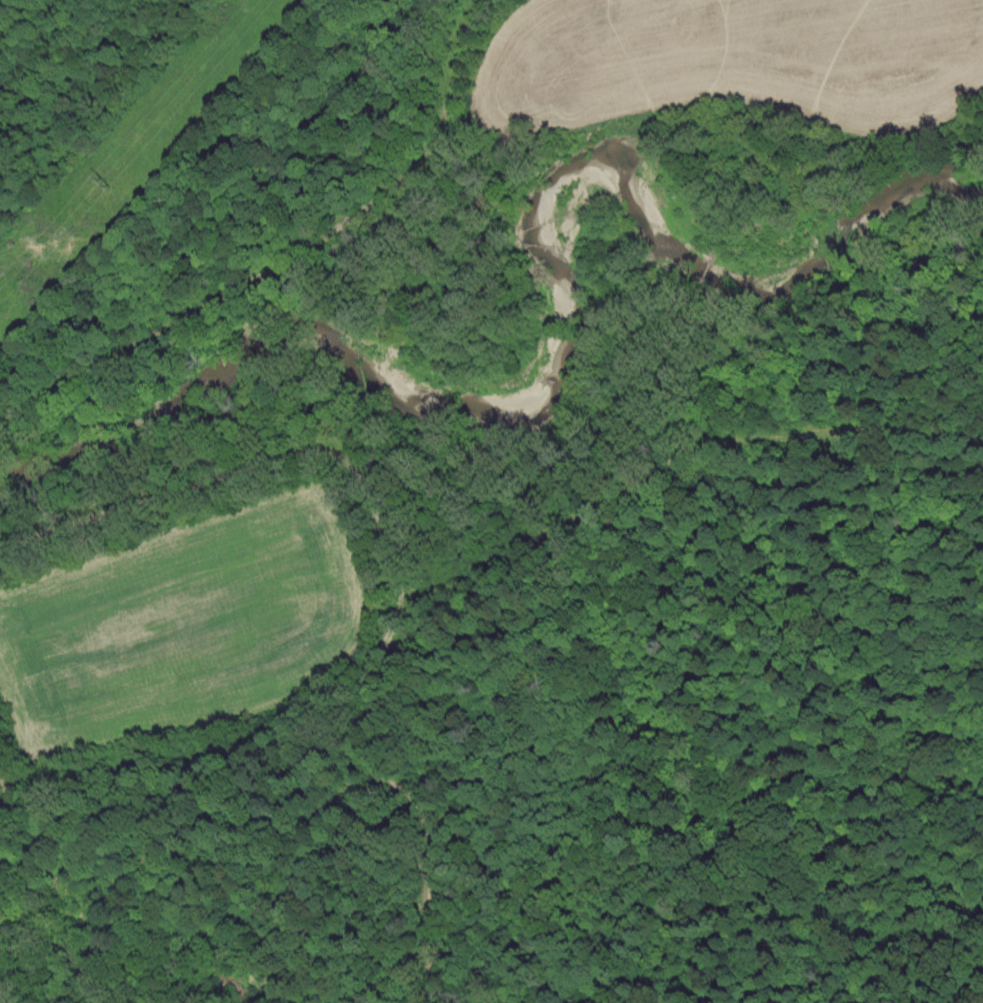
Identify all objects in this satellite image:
power tower: (107, 181)
road: (278, 234)
road: (245, 464)
road: (488, 554)

